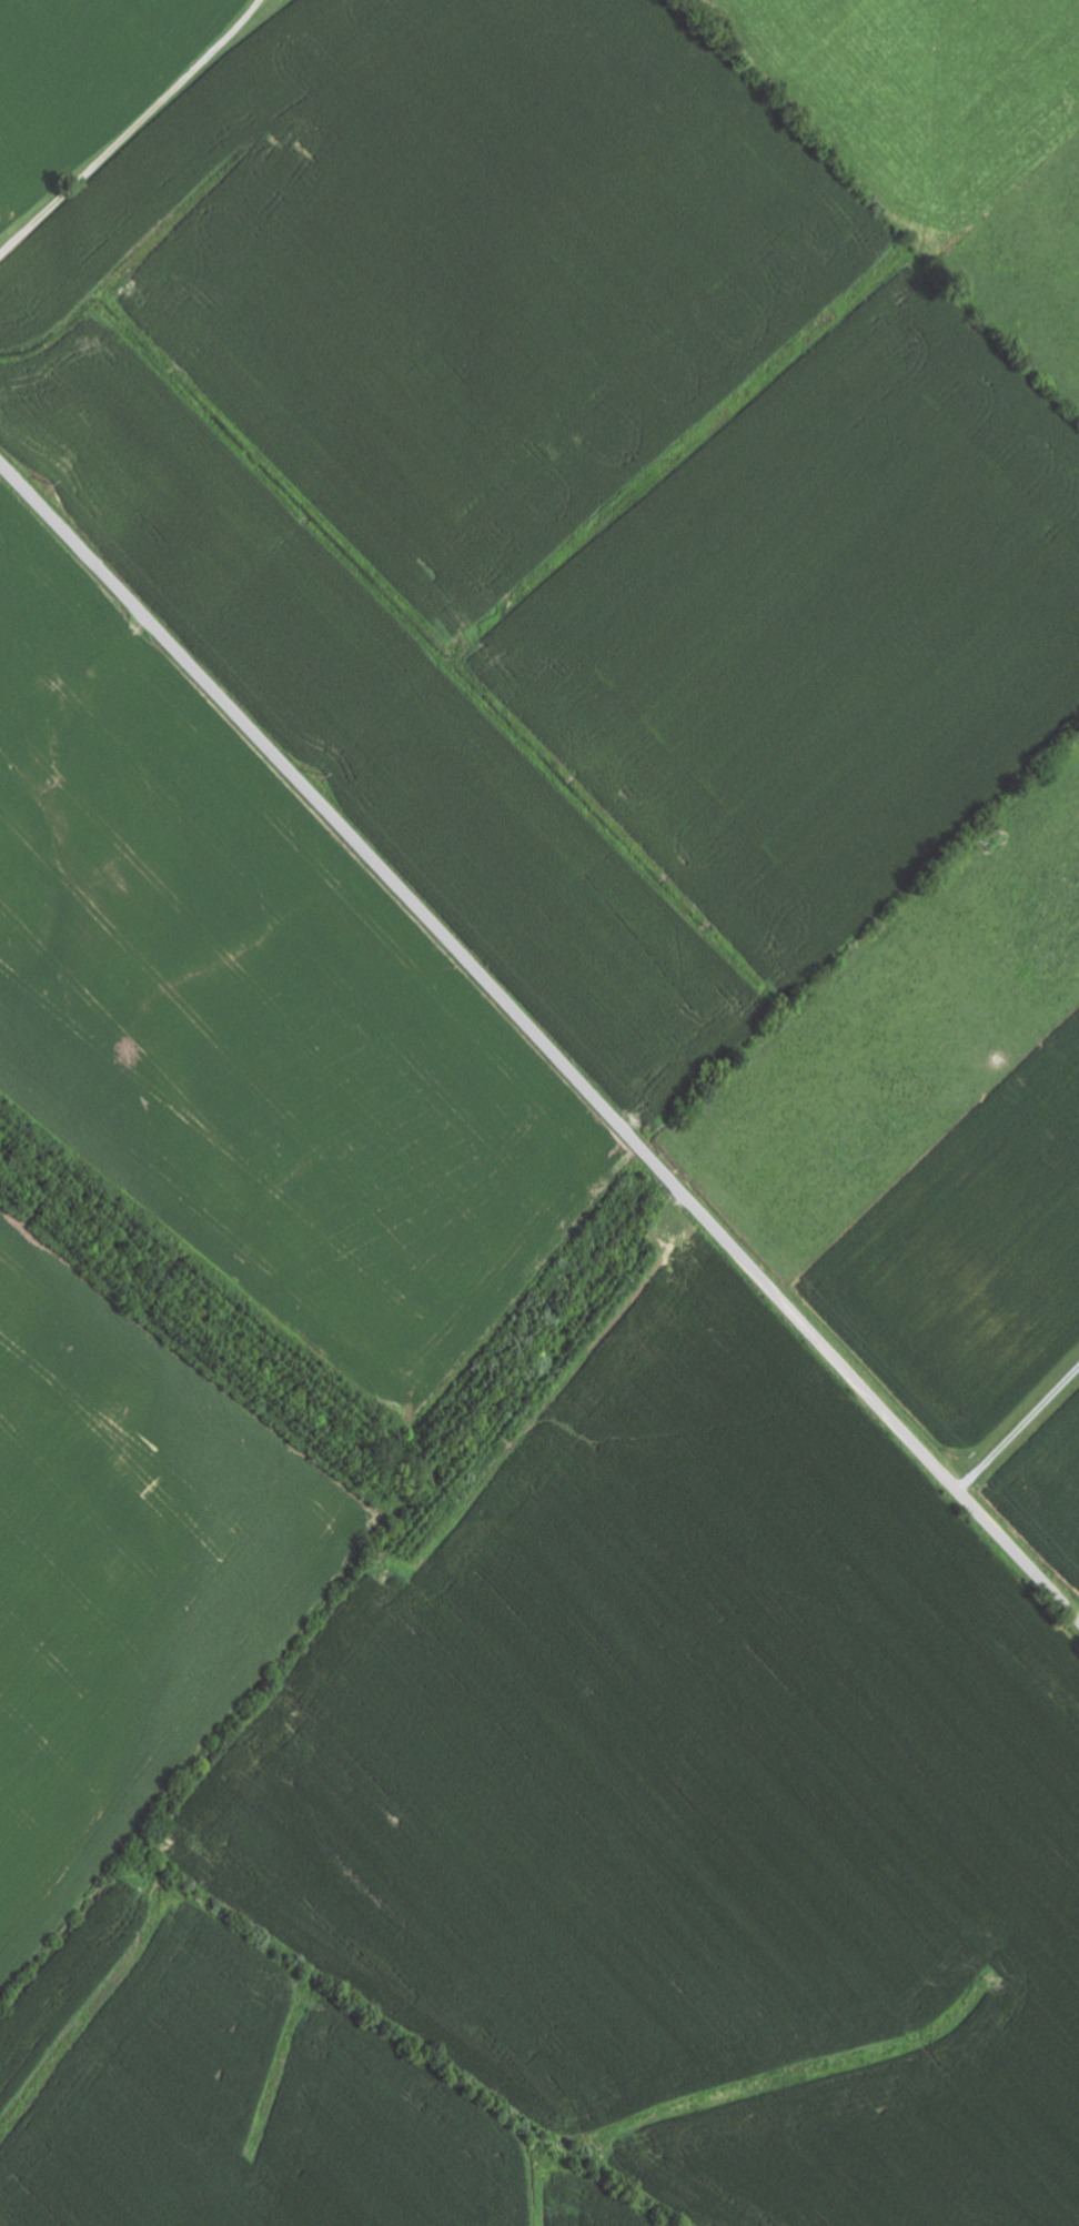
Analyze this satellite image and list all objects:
road: (301, 254)
road: (541, 1036)
road: (911, 1052)
road: (1020, 1431)

